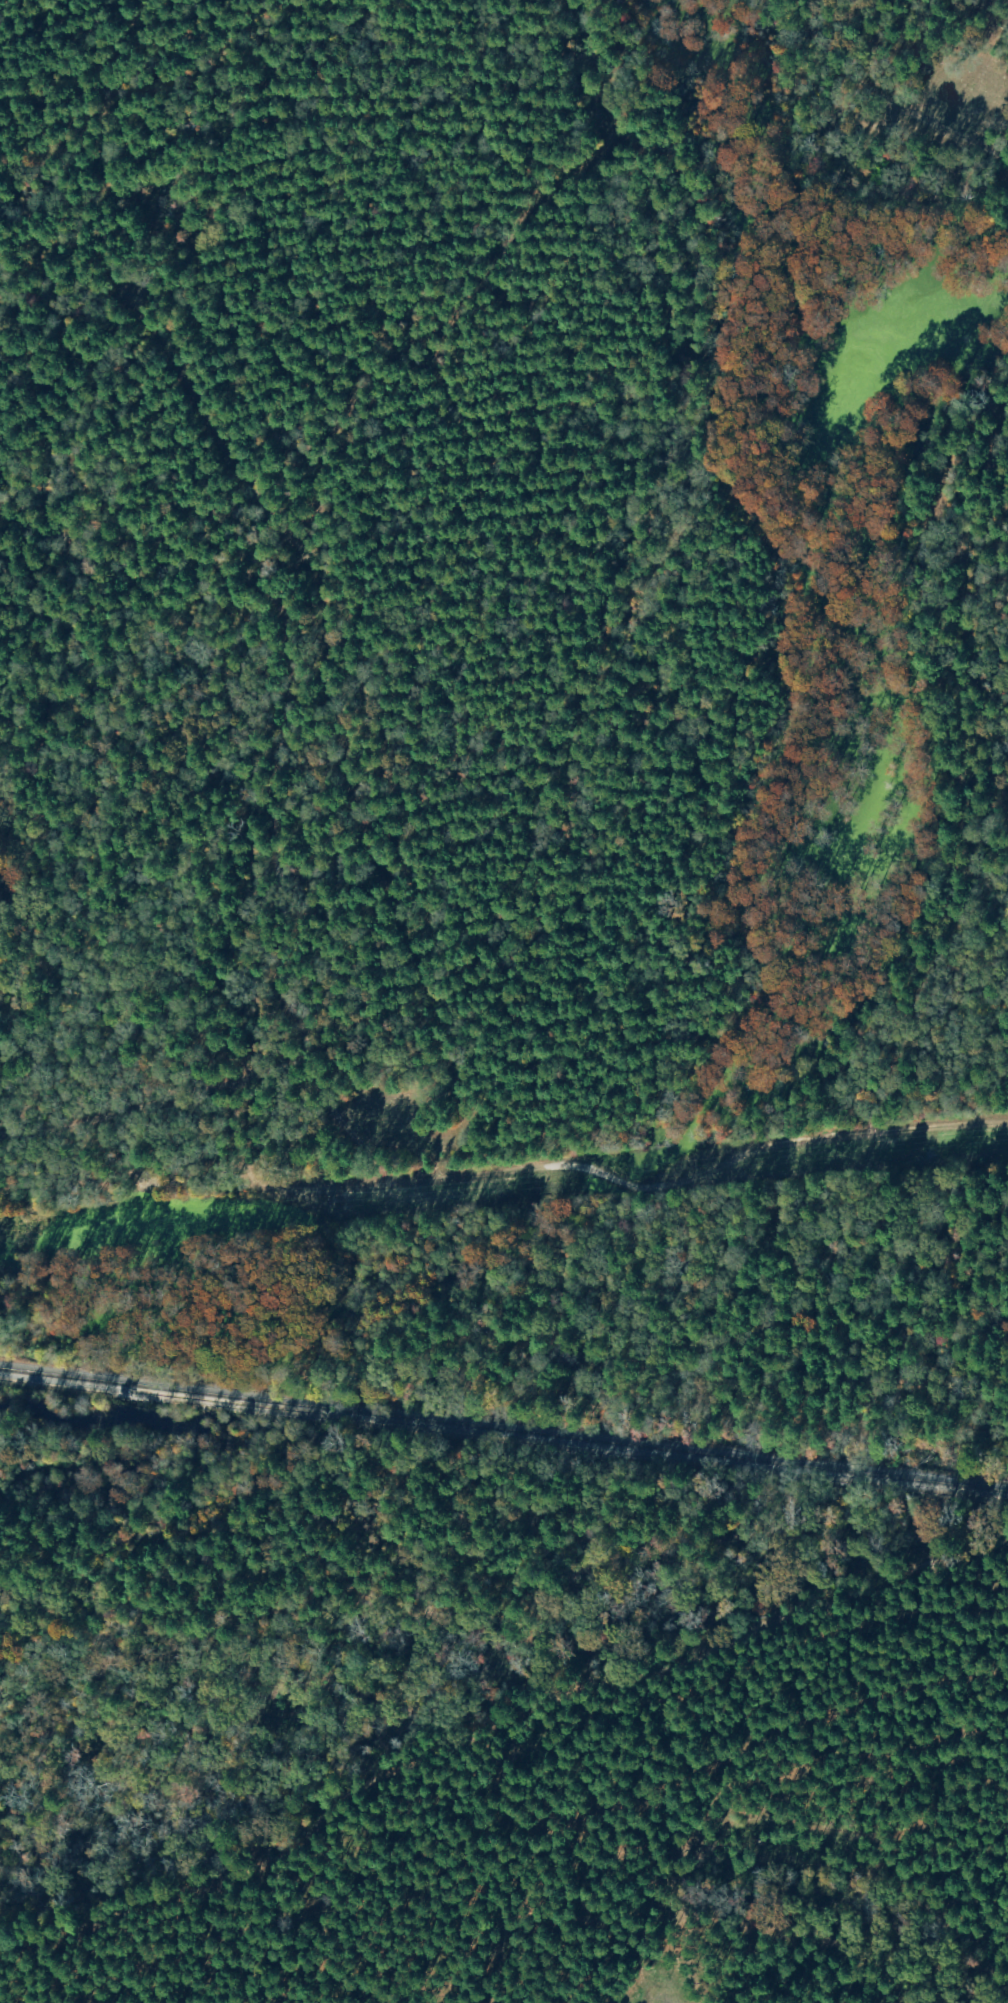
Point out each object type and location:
power tower: (697, 1161)
power tower: (336, 1199)
railway: (503, 1429)

